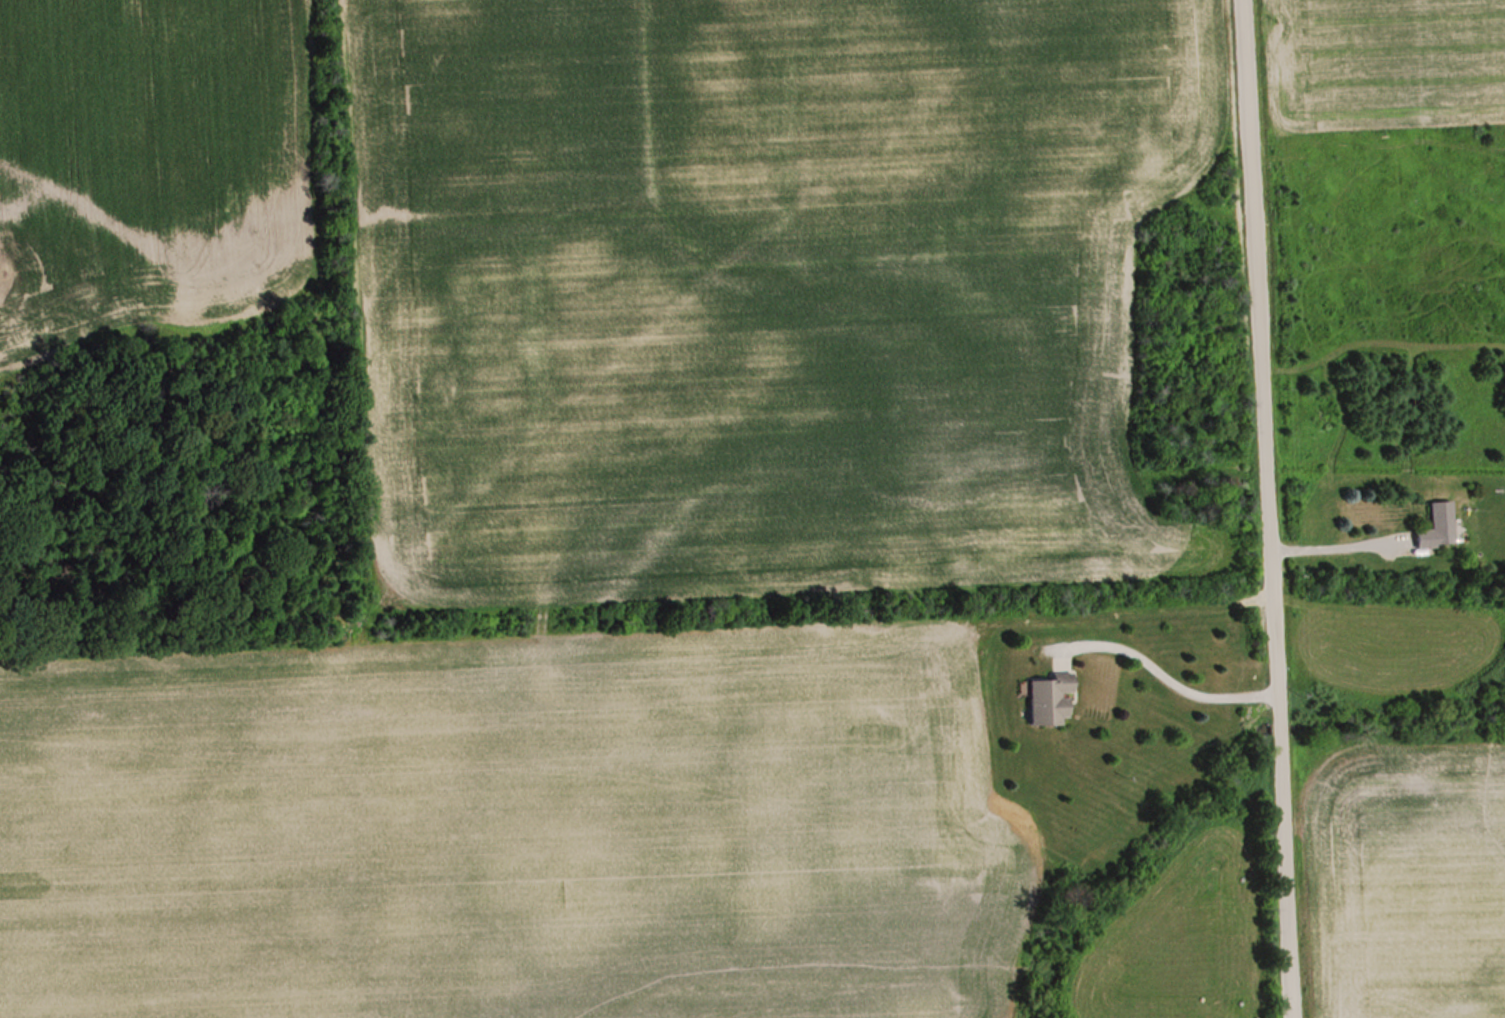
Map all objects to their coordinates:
road: (1267, 508)
building: (1438, 526)
road: (1156, 673)
building: (1051, 700)

